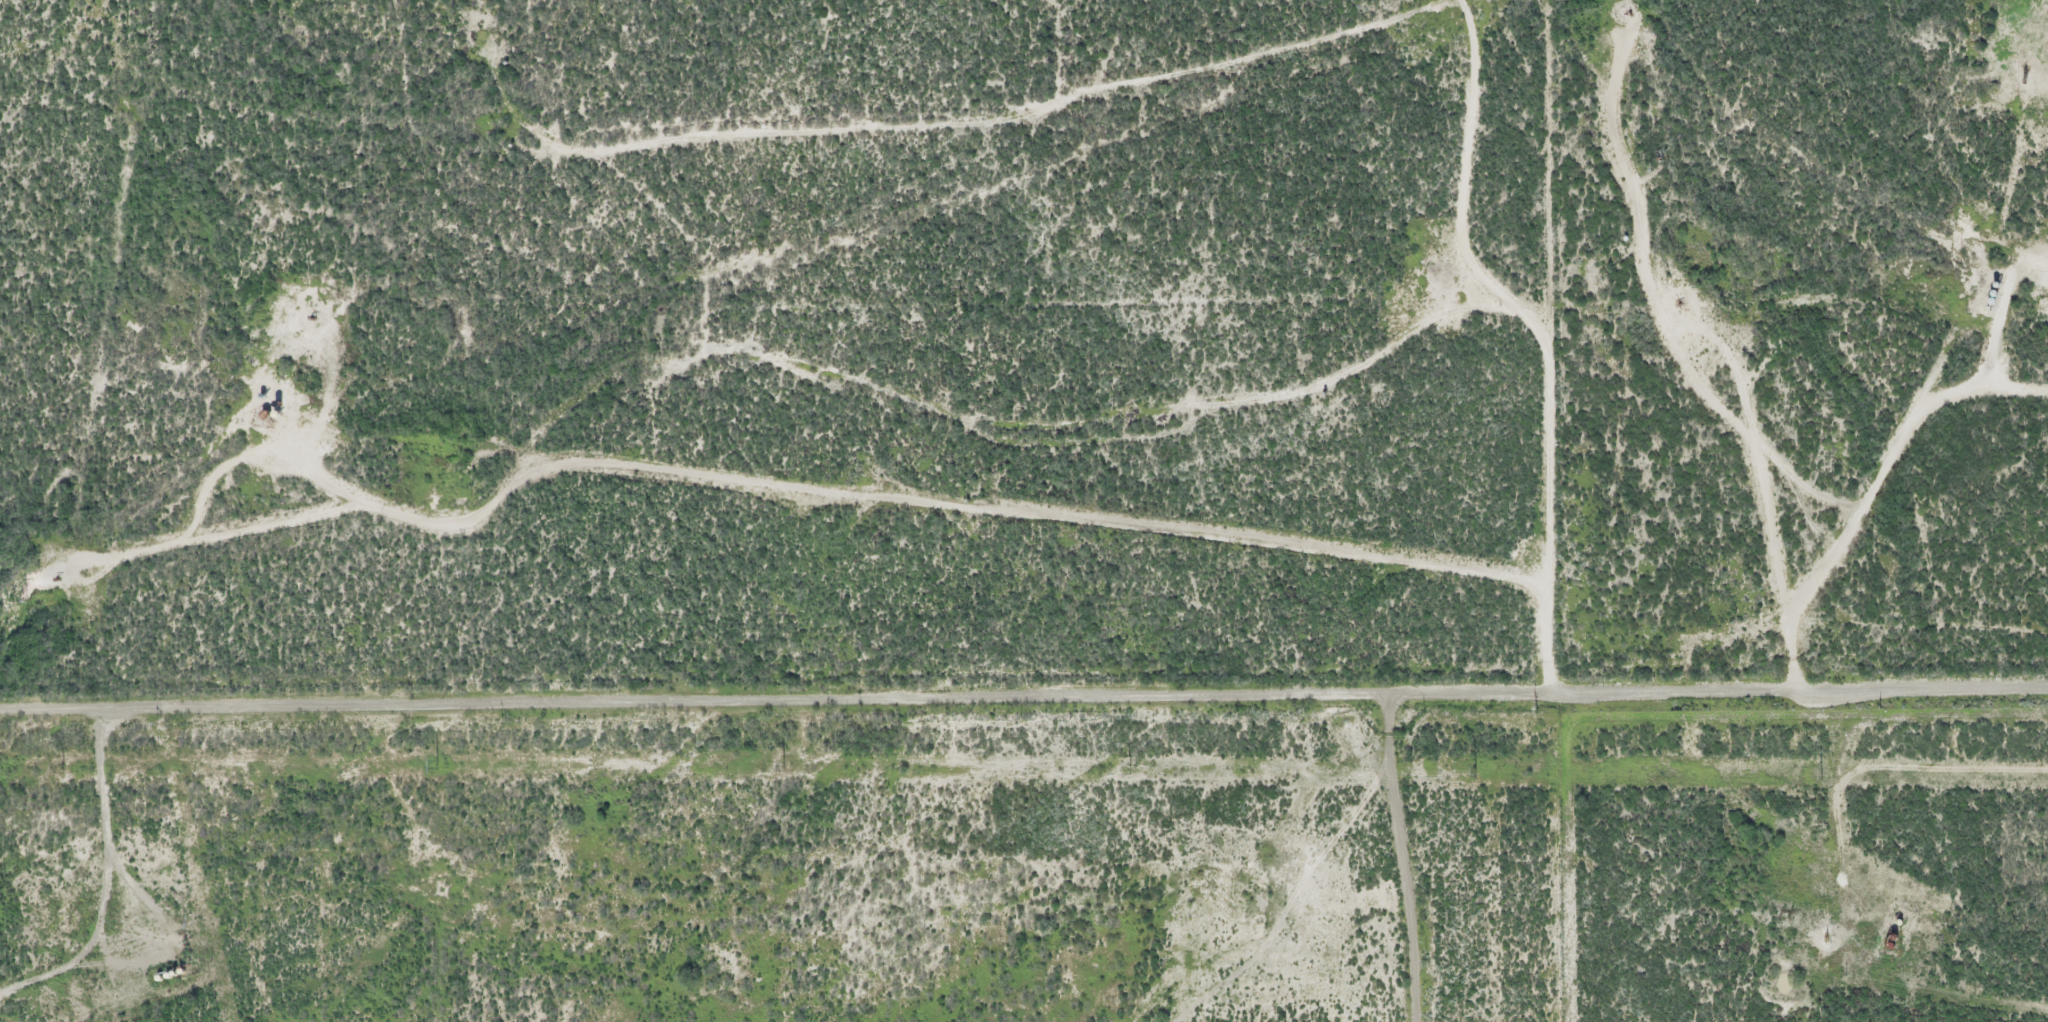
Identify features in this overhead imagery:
road: (1023, 696)
power tower: (436, 762)
power tower: (783, 766)
power tower: (61, 767)
power tower: (1129, 769)
power tower: (1475, 770)
power tower: (1821, 773)
road: (1399, 857)

